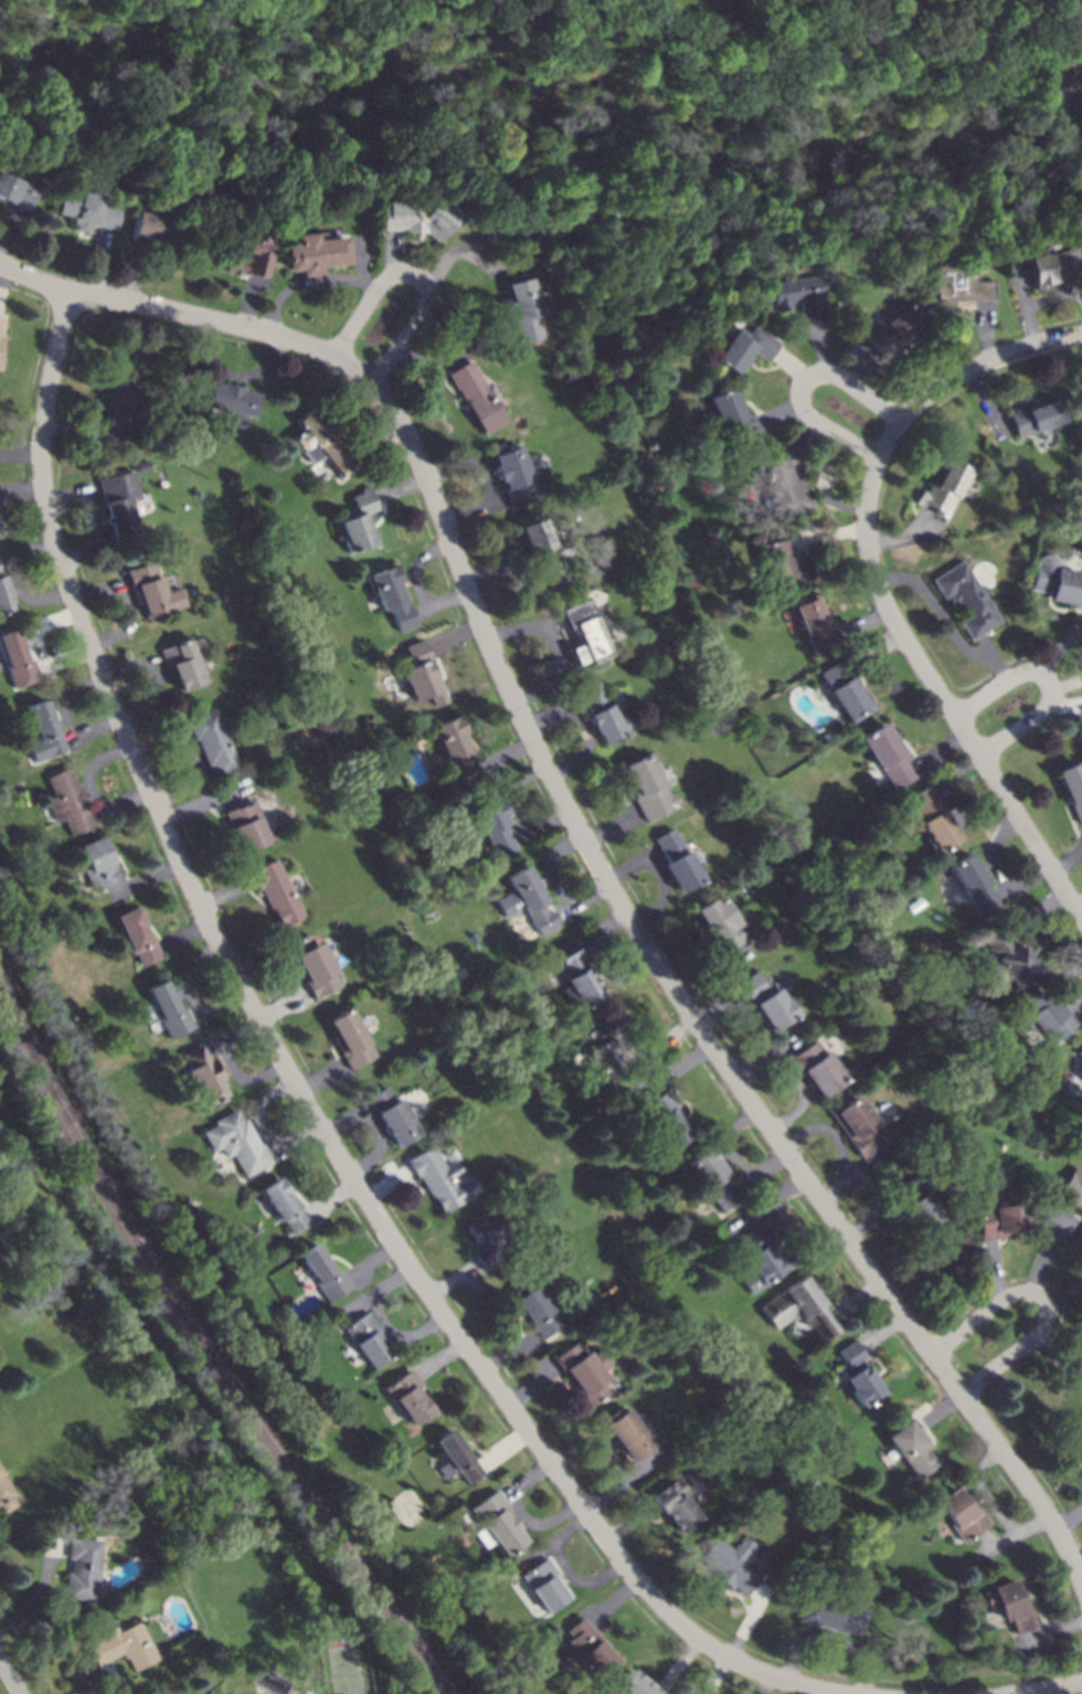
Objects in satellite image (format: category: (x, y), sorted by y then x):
building: (1069, 22)
building: (718, 41)
building: (18, 191)
building: (85, 208)
building: (418, 218)
building: (574, 222)
building: (148, 227)
road: (8, 231)
road: (509, 237)
building: (253, 252)
road: (392, 252)
building: (315, 256)
road: (98, 262)
road: (361, 262)
building: (1054, 265)
road: (130, 272)
road: (18, 273)
road: (1019, 273)
road: (414, 275)
road: (347, 279)
road: (3, 280)
building: (956, 282)
road: (1051, 296)
building: (796, 297)
road: (278, 299)
road: (248, 301)
road: (1022, 306)
building: (523, 309)
building: (1, 324)
building: (892, 328)
road: (983, 330)
building: (1, 340)
road: (820, 348)
building: (742, 349)
road: (426, 358)
road: (192, 359)
building: (1, 361)
road: (789, 363)
road: (855, 364)
road: (963, 371)
road: (242, 377)
road: (798, 382)
building: (475, 399)
building: (230, 401)
building: (120, 403)
road: (984, 404)
road: (777, 414)
building: (726, 416)
building: (1033, 416)
road: (83, 434)
road: (375, 435)
road: (803, 436)
building: (322, 442)
road: (20, 454)
road: (473, 463)
building: (513, 475)
road: (820, 484)
building: (783, 485)
building: (943, 485)
road: (401, 488)
building: (545, 488)
road: (21, 489)
road: (71, 496)
building: (120, 504)
road: (474, 510)
building: (359, 522)
road: (25, 527)
road: (95, 534)
road: (828, 534)
road: (902, 537)
building: (544, 547)
road: (28, 552)
building: (782, 562)
road: (414, 565)
road: (518, 572)
building: (1057, 582)
road: (100, 590)
building: (152, 590)
building: (4, 595)
road: (29, 595)
building: (392, 599)
building: (966, 599)
road: (442, 602)
road: (938, 610)
road: (864, 622)
road: (129, 623)
building: (815, 625)
road: (522, 628)
building: (585, 633)
road: (454, 634)
road: (1062, 647)
road: (878, 648)
road: (66, 658)
road: (993, 659)
building: (17, 660)
building: (182, 661)
road: (129, 666)
road: (555, 668)
building: (422, 674)
road: (1049, 679)
road: (1067, 684)
building: (846, 689)
road: (67, 696)
road: (942, 698)
road: (153, 699)
road: (1064, 706)
road: (552, 714)
building: (602, 714)
road: (92, 728)
building: (44, 732)
road: (161, 741)
building: (213, 742)
road: (586, 745)
building: (456, 750)
road: (938, 751)
road: (506, 754)
building: (888, 755)
road: (89, 770)
road: (956, 772)
road: (195, 773)
building: (649, 787)
building: (1072, 788)
road: (512, 792)
road: (230, 800)
building: (70, 802)
road: (123, 802)
road: (203, 802)
building: (932, 820)
building: (494, 824)
road: (967, 824)
road: (541, 825)
building: (248, 826)
road: (612, 827)
road: (989, 850)
road: (594, 856)
road: (1067, 861)
building: (679, 862)
building: (100, 864)
road: (632, 865)
road: (549, 866)
building: (1, 868)
road: (146, 879)
road: (1022, 880)
building: (975, 886)
building: (277, 891)
road: (226, 894)
road: (665, 894)
building: (527, 901)
road: (582, 901)
road: (1078, 904)
road: (1036, 910)
building: (719, 924)
road: (601, 930)
road: (1032, 931)
road: (185, 935)
building: (138, 936)
building: (1008, 959)
road: (277, 961)
building: (316, 965)
road: (189, 974)
road: (713, 974)
building: (576, 977)
road: (613, 978)
road: (1060, 987)
road: (219, 1002)
building: (767, 1002)
road: (285, 1005)
road: (719, 1007)
building: (170, 1009)
road: (1079, 1012)
building: (1046, 1016)
road: (754, 1033)
building: (350, 1039)
road: (208, 1040)
road: (219, 1045)
road: (653, 1048)
building: (604, 1049)
building: (1080, 1052)
road: (770, 1056)
building: (445, 1059)
road: (231, 1065)
road: (677, 1067)
building: (818, 1069)
building: (1080, 1070)
building: (205, 1074)
building: (1081, 1077)
road: (321, 1078)
road: (295, 1082)
road: (805, 1092)
road: (258, 1109)
building: (393, 1116)
building: (665, 1119)
road: (347, 1120)
building: (859, 1126)
road: (832, 1132)
road: (294, 1137)
road: (726, 1141)
building: (237, 1143)
road: (379, 1145)
road: (762, 1171)
building: (443, 1178)
building: (712, 1178)
road: (851, 1178)
road: (388, 1184)
building: (1073, 1187)
road: (332, 1197)
road: (770, 1203)
building: (917, 1204)
building: (285, 1206)
building: (1004, 1217)
road: (871, 1220)
building: (65, 1224)
road: (797, 1237)
building: (488, 1239)
building: (1079, 1240)
road: (1049, 1246)
building: (760, 1259)
road: (373, 1261)
road: (996, 1272)
building: (326, 1273)
road: (454, 1279)
road: (469, 1279)
road: (376, 1291)
road: (859, 1299)
road: (1067, 1299)
road: (1044, 1300)
building: (800, 1307)
building: (535, 1311)
road: (884, 1328)
road: (400, 1335)
building: (369, 1340)
road: (530, 1347)
railway: (208, 1349)
road: (509, 1352)
road: (1059, 1355)
road: (442, 1358)
building: (582, 1373)
building: (859, 1374)
road: (532, 1386)
building: (410, 1397)
road: (942, 1409)
building: (626, 1434)
building: (1075, 1436)
road: (597, 1442)
road: (506, 1448)
building: (913, 1448)
building: (458, 1459)
building: (766, 1470)
road: (530, 1478)
road: (629, 1478)
building: (813, 1483)
building: (385, 1486)
building: (7, 1493)
road: (984, 1493)
building: (677, 1505)
park: (409, 1507)
building: (962, 1514)
road: (1069, 1518)
road: (630, 1523)
building: (498, 1524)
road: (540, 1524)
road: (1014, 1535)
road: (558, 1539)
road: (988, 1539)
road: (1078, 1558)
building: (182, 1563)
building: (733, 1564)
building: (83, 1569)
building: (403, 1570)
road: (582, 1579)
building: (545, 1585)
road: (41, 1589)
building: (909, 1590)
road: (759, 1592)
road: (615, 1601)
building: (1010, 1607)
building: (350, 1609)
building: (831, 1614)
road: (751, 1618)
road: (1053, 1631)
building: (125, 1647)
building: (591, 1647)
road: (850, 1647)
road: (797, 1653)
road: (681, 1663)
park: (347, 1671)
road: (717, 1674)
road: (11, 1676)
road: (766, 1684)
road: (117, 1686)
building: (638, 1686)
road: (1044, 1687)
building: (312, 1692)
road: (819, 1692)

